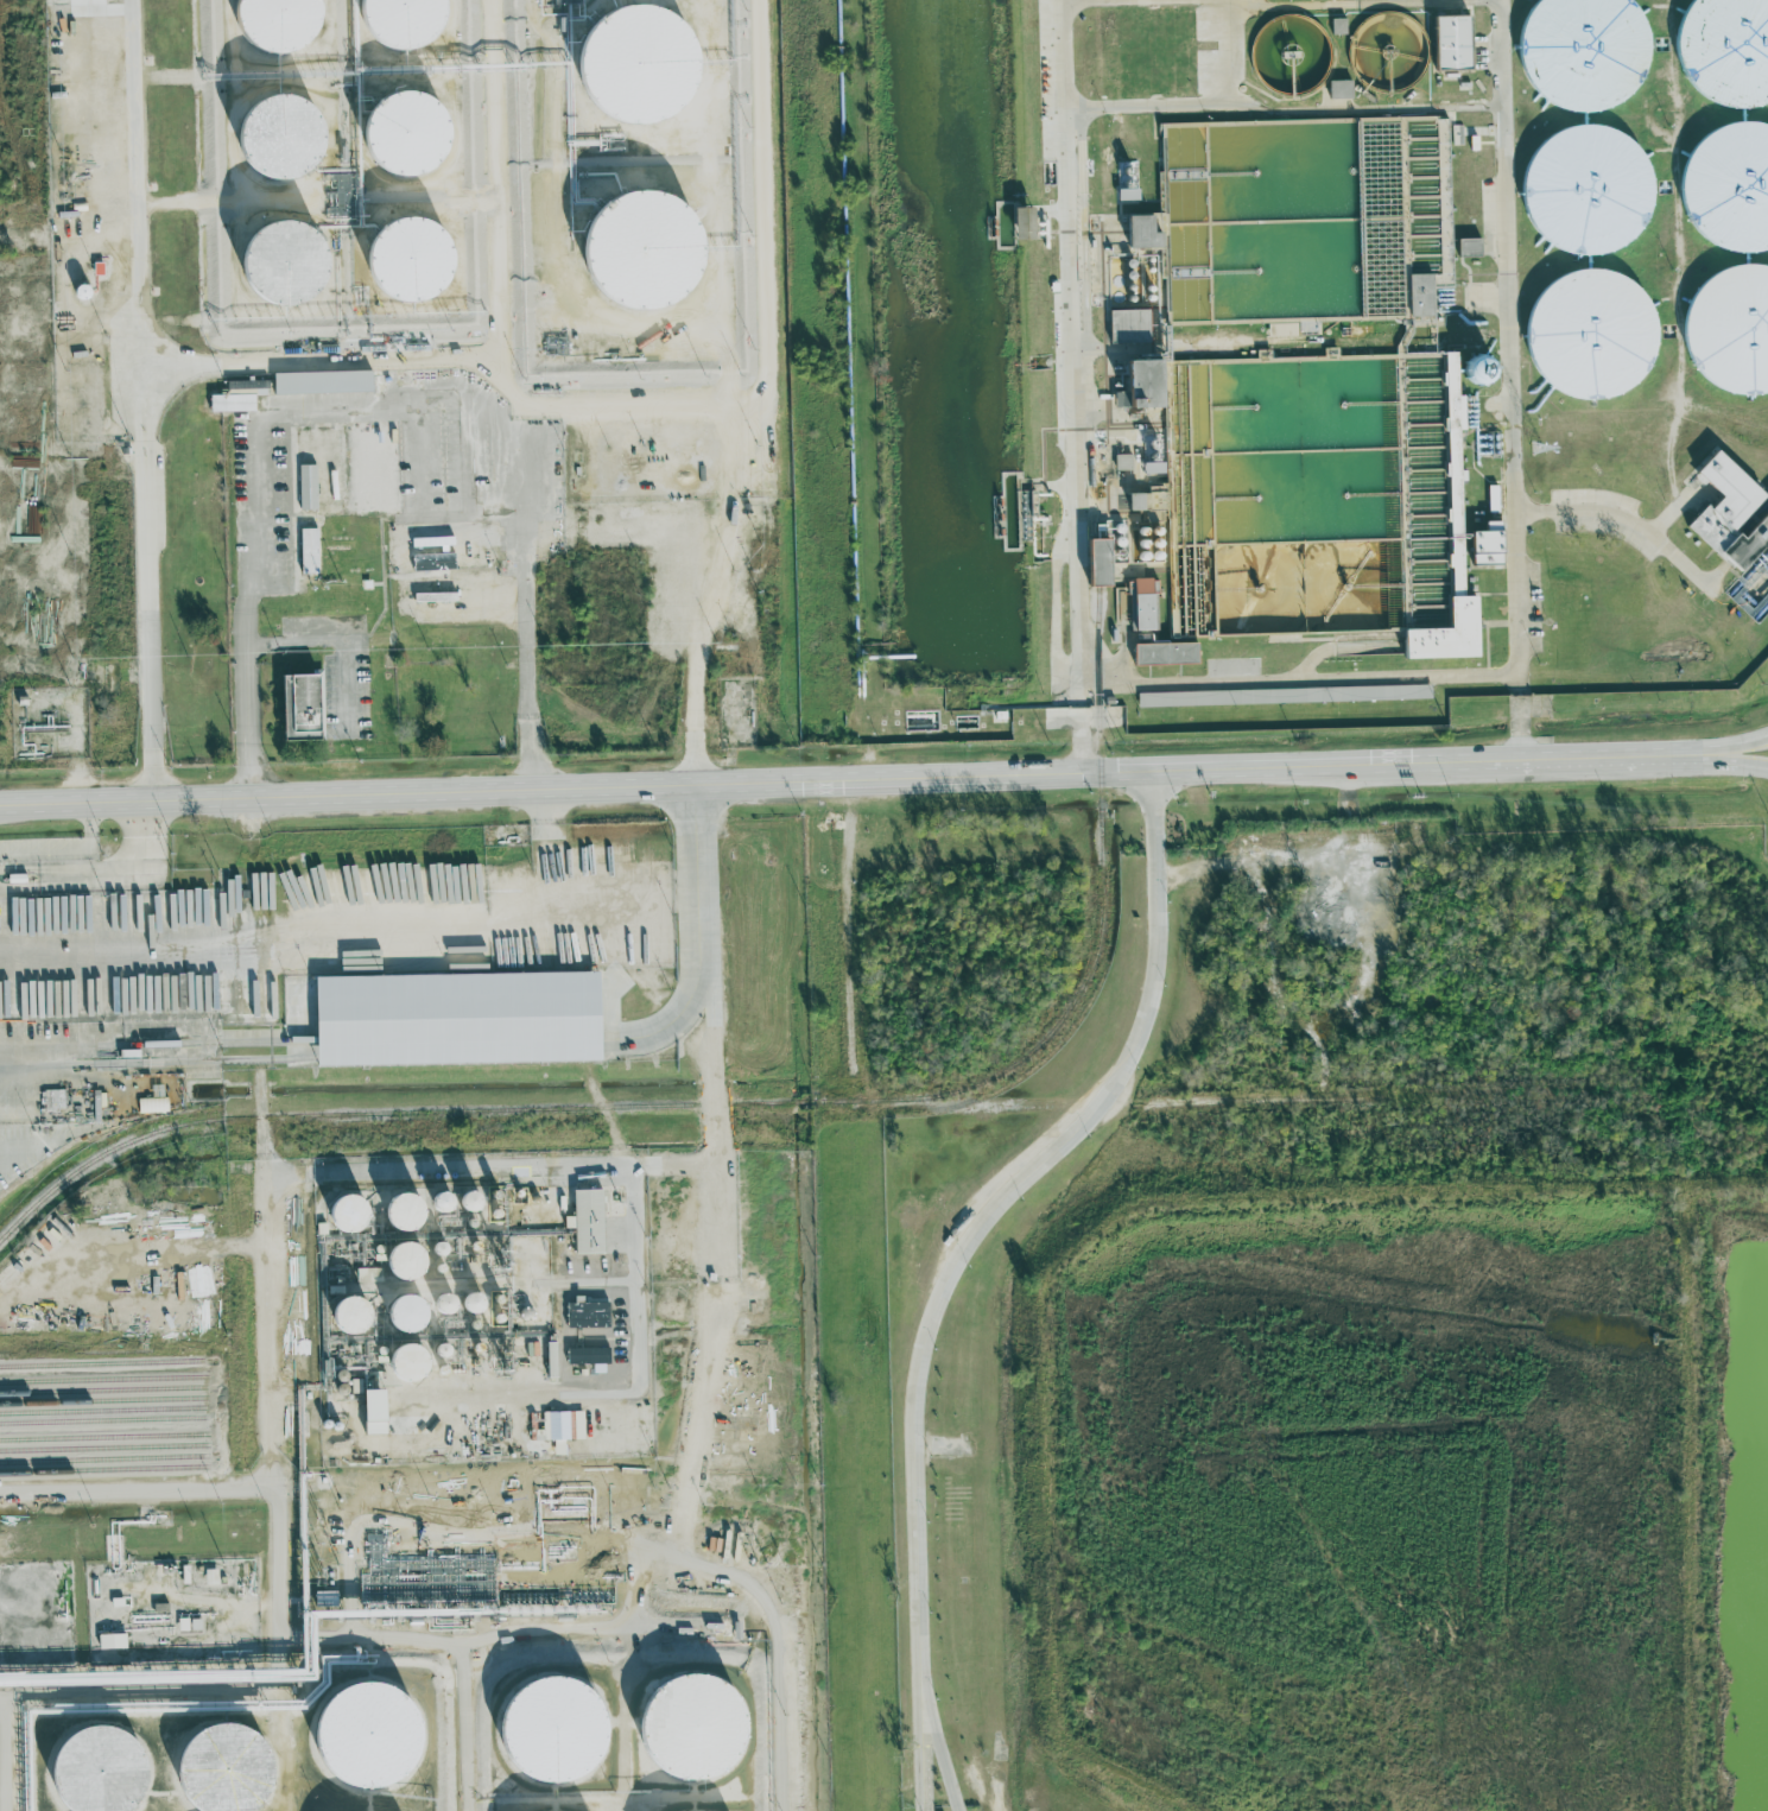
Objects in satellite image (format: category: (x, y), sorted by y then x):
road: (1092, 1)
road: (1363, 5)
building: (397, 21)
building: (266, 24)
building: (1337, 26)
building: (1449, 42)
building: (1724, 50)
building: (1580, 51)
road: (1232, 57)
building: (1338, 89)
road: (1286, 109)
building: (399, 132)
building: (272, 137)
road: (131, 153)
building: (1126, 181)
building: (1728, 186)
building: (1584, 190)
building: (1019, 223)
building: (1138, 232)
road: (42, 239)
road: (109, 240)
building: (1466, 246)
building: (401, 258)
building: (274, 265)
building: (95, 268)
building: (78, 292)
building: (1418, 295)
building: (1127, 324)
road: (524, 329)
building: (1729, 329)
building: (1588, 334)
road: (340, 360)
building: (1475, 371)
road: (1517, 380)
building: (318, 382)
building: (1136, 385)
road: (1073, 386)
building: (234, 398)
road: (246, 398)
road: (397, 401)
road: (686, 403)
road: (56, 429)
road: (1643, 430)
road: (468, 450)
road: (418, 452)
building: (1121, 461)
building: (1151, 468)
road: (1694, 495)
building: (1490, 499)
building: (1141, 501)
road: (388, 507)
road: (1639, 518)
building: (1730, 518)
road: (609, 527)
building: (1484, 545)
road: (148, 547)
building: (1447, 549)
building: (1094, 564)
building: (1120, 601)
building: (1141, 604)
road: (1748, 612)
road: (338, 639)
road: (701, 639)
road: (1346, 640)
building: (1161, 653)
road: (1298, 678)
building: (1181, 698)
building: (296, 707)
road: (1723, 746)
road: (1586, 759)
road: (1723, 761)
road: (747, 783)
road: (551, 848)
road: (109, 874)
building: (452, 1017)
road: (456, 1036)
building: (51, 1100)
railway: (781, 1102)
building: (151, 1104)
road: (712, 1107)
building: (14, 1113)
road: (552, 1167)
building: (464, 1199)
building: (436, 1201)
building: (399, 1210)
building: (341, 1211)
building: (584, 1221)
building: (436, 1248)
building: (393, 1262)
road: (959, 1262)
building: (468, 1302)
building: (442, 1305)
building: (401, 1312)
building: (344, 1313)
building: (584, 1313)
building: (438, 1350)
building: (585, 1355)
building: (549, 1359)
building: (403, 1362)
railway: (101, 1363)
railway: (101, 1379)
railway: (101, 1389)
railway: (101, 1400)
railway: (101, 1410)
building: (369, 1411)
road: (268, 1414)
railway: (102, 1420)
railway: (102, 1437)
railway: (102, 1448)
railway: (102, 1458)
railway: (103, 1469)
road: (135, 1490)
building: (108, 1640)
building: (546, 1729)
building: (359, 1734)
road: (5, 1752)
road: (937, 1760)
building: (217, 1768)
building: (91, 1769)

